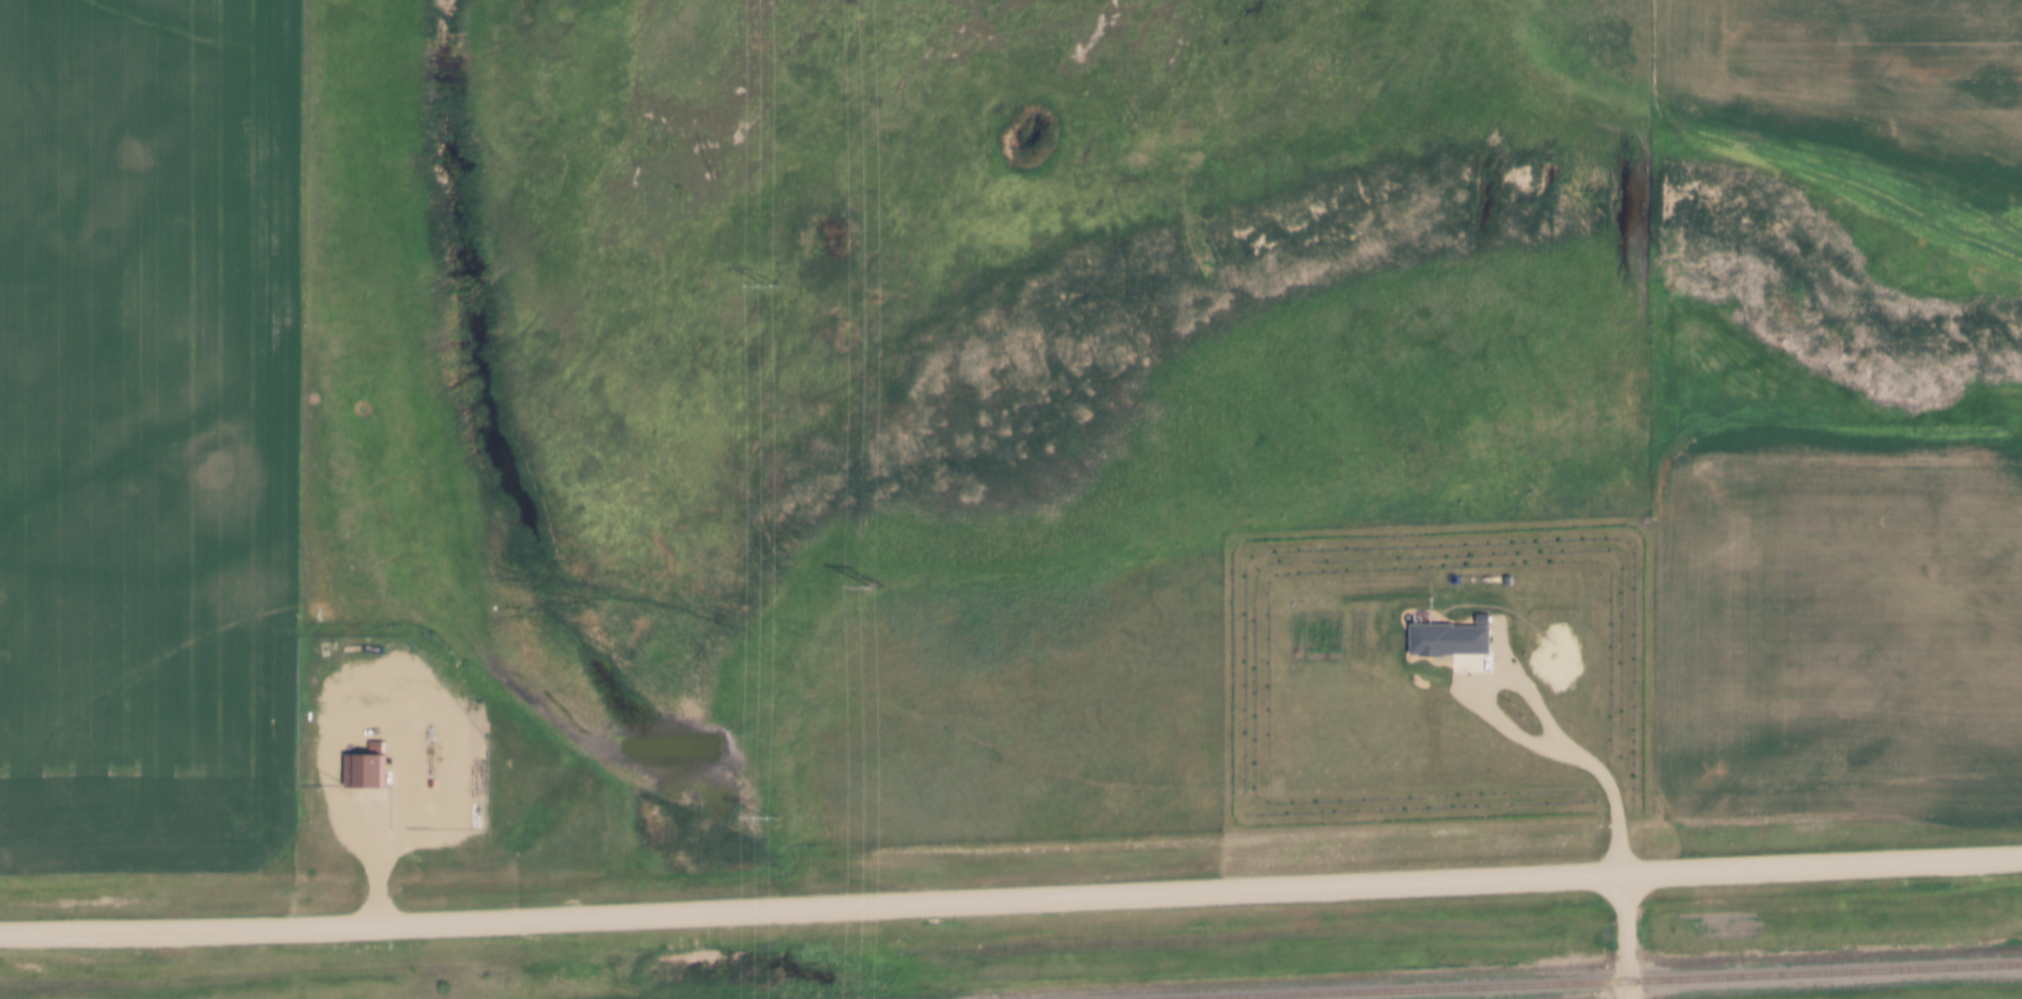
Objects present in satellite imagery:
power tower: (768, 289)
building: (1504, 581)
power tower: (872, 589)
building: (1447, 639)
building: (1555, 664)
building: (361, 769)
power tower: (767, 821)
road: (1011, 896)
road: (1626, 935)
railway: (1824, 975)
railway: (1446, 991)

